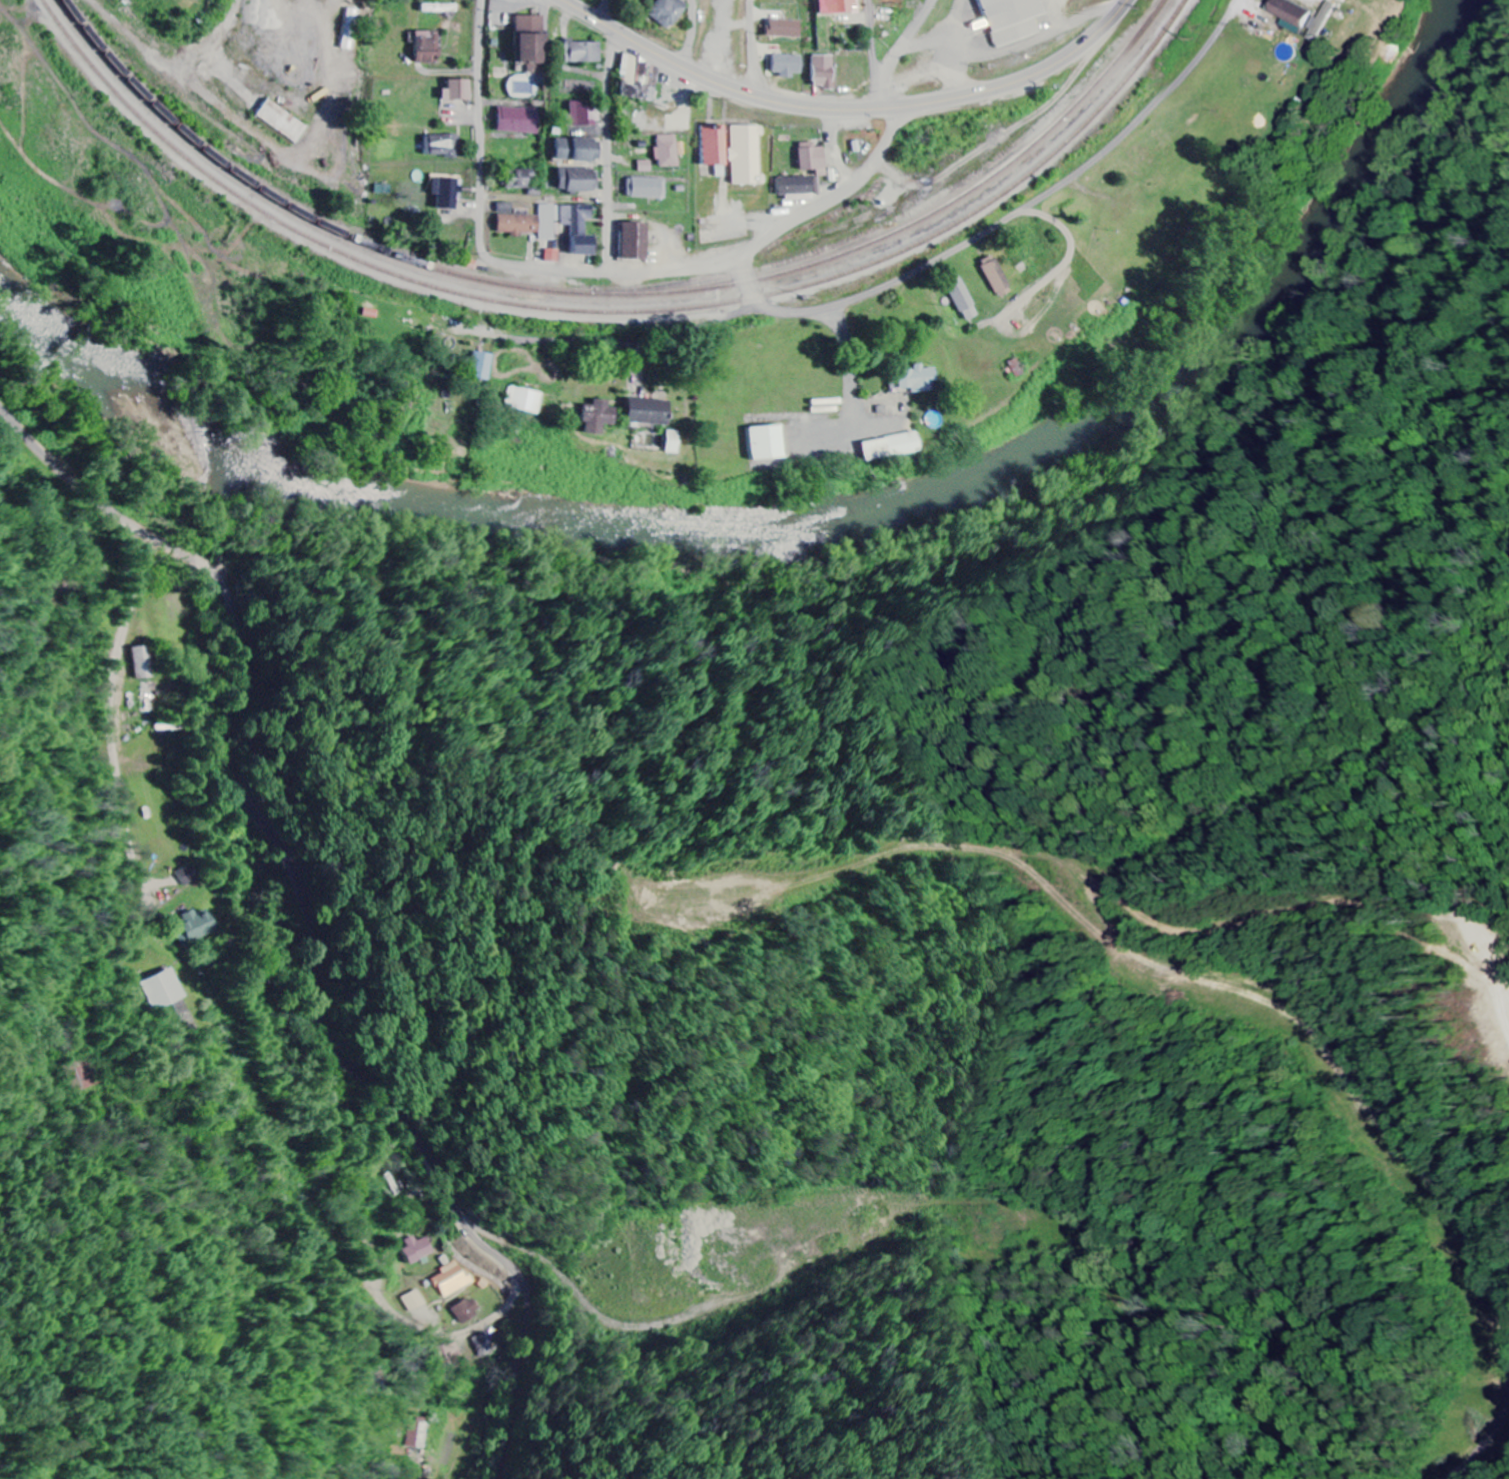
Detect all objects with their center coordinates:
building: (839, 7)
building: (668, 12)
building: (1307, 16)
road: (923, 18)
building: (1003, 21)
building: (786, 28)
road: (692, 34)
building: (532, 43)
building: (429, 47)
road: (753, 47)
building: (584, 52)
road: (894, 61)
building: (788, 65)
building: (630, 68)
building: (823, 72)
road: (1020, 79)
road: (718, 83)
building: (459, 90)
building: (584, 114)
road: (482, 117)
building: (284, 121)
building: (520, 121)
road: (610, 136)
building: (446, 145)
building: (715, 145)
building: (579, 149)
building: (668, 151)
road: (879, 158)
building: (814, 159)
building: (522, 179)
building: (579, 180)
building: (798, 187)
building: (647, 188)
building: (447, 193)
road: (1031, 205)
building: (531, 222)
building: (581, 229)
building: (637, 241)
building: (554, 256)
road: (538, 269)
road: (681, 271)
building: (997, 276)
road: (748, 286)
railway: (615, 294)
building: (965, 300)
railway: (616, 312)
building: (483, 366)
building: (918, 381)
building: (525, 399)
building: (651, 412)
building: (600, 417)
building: (675, 442)
building: (769, 443)
building: (892, 447)
river: (809, 529)
building: (143, 663)
road: (117, 704)
building: (187, 876)
road: (310, 912)
building: (199, 926)
building: (161, 990)
building: (420, 1250)
building: (454, 1281)
building: (417, 1302)
building: (469, 1311)
road: (464, 1335)
road: (415, 1390)
building: (419, 1435)

